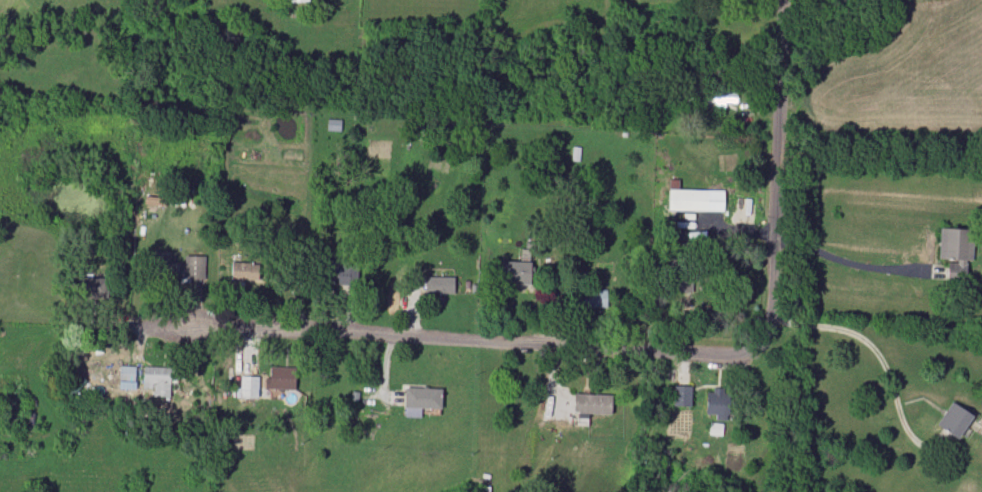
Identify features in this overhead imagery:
building: (295, 0)
building: (713, 97)
building: (333, 124)
building: (695, 199)
building: (955, 243)
road: (849, 263)
building: (177, 266)
building: (244, 270)
building: (514, 273)
building: (438, 284)
building: (94, 287)
building: (594, 298)
road: (618, 345)
road: (874, 351)
building: (127, 377)
building: (280, 378)
building: (157, 380)
building: (247, 387)
building: (681, 395)
building: (420, 400)
building: (592, 403)
building: (717, 404)
building: (954, 420)

